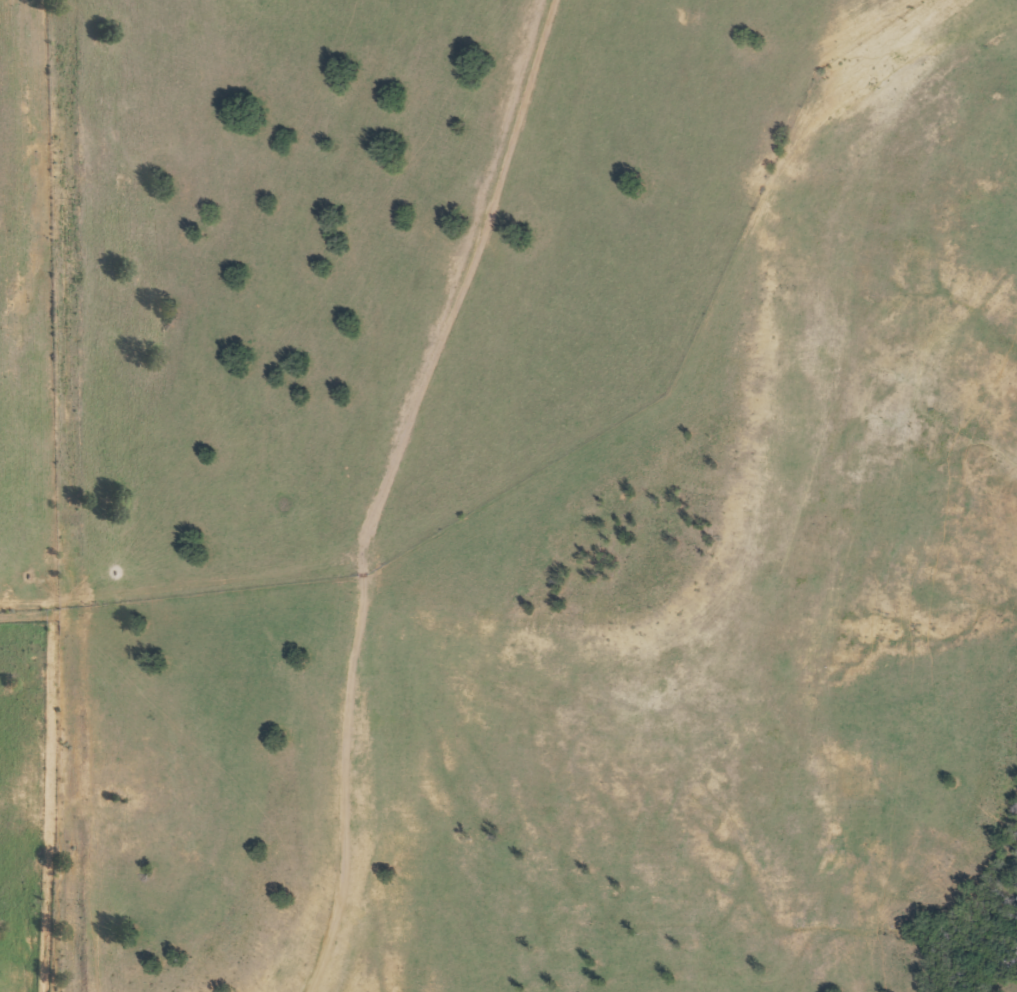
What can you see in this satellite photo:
road: (512, 139)
road: (342, 623)

